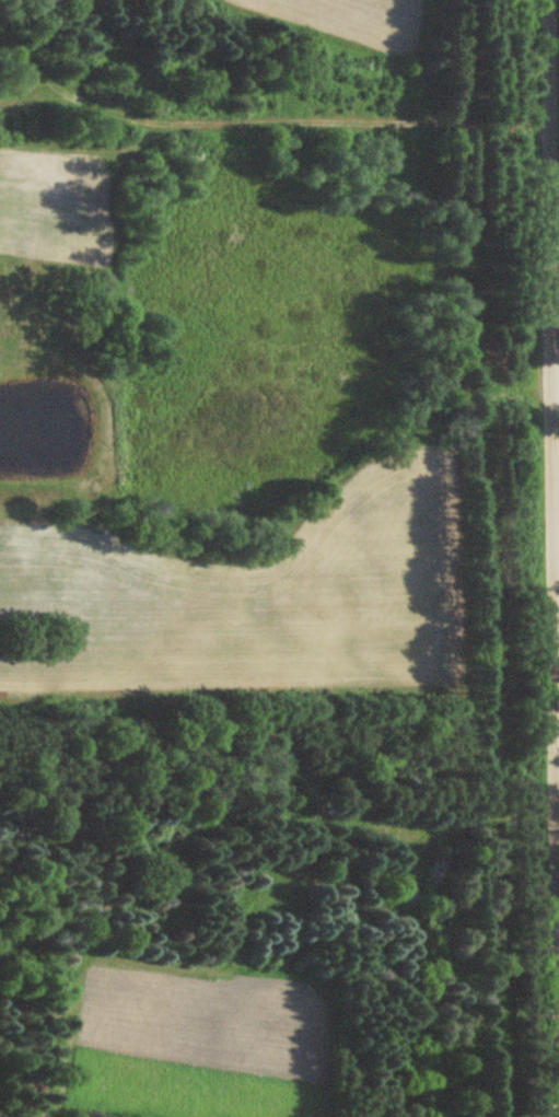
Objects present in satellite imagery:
road: (551, 558)
building: (436, 870)
building: (409, 899)
road: (277, 961)

